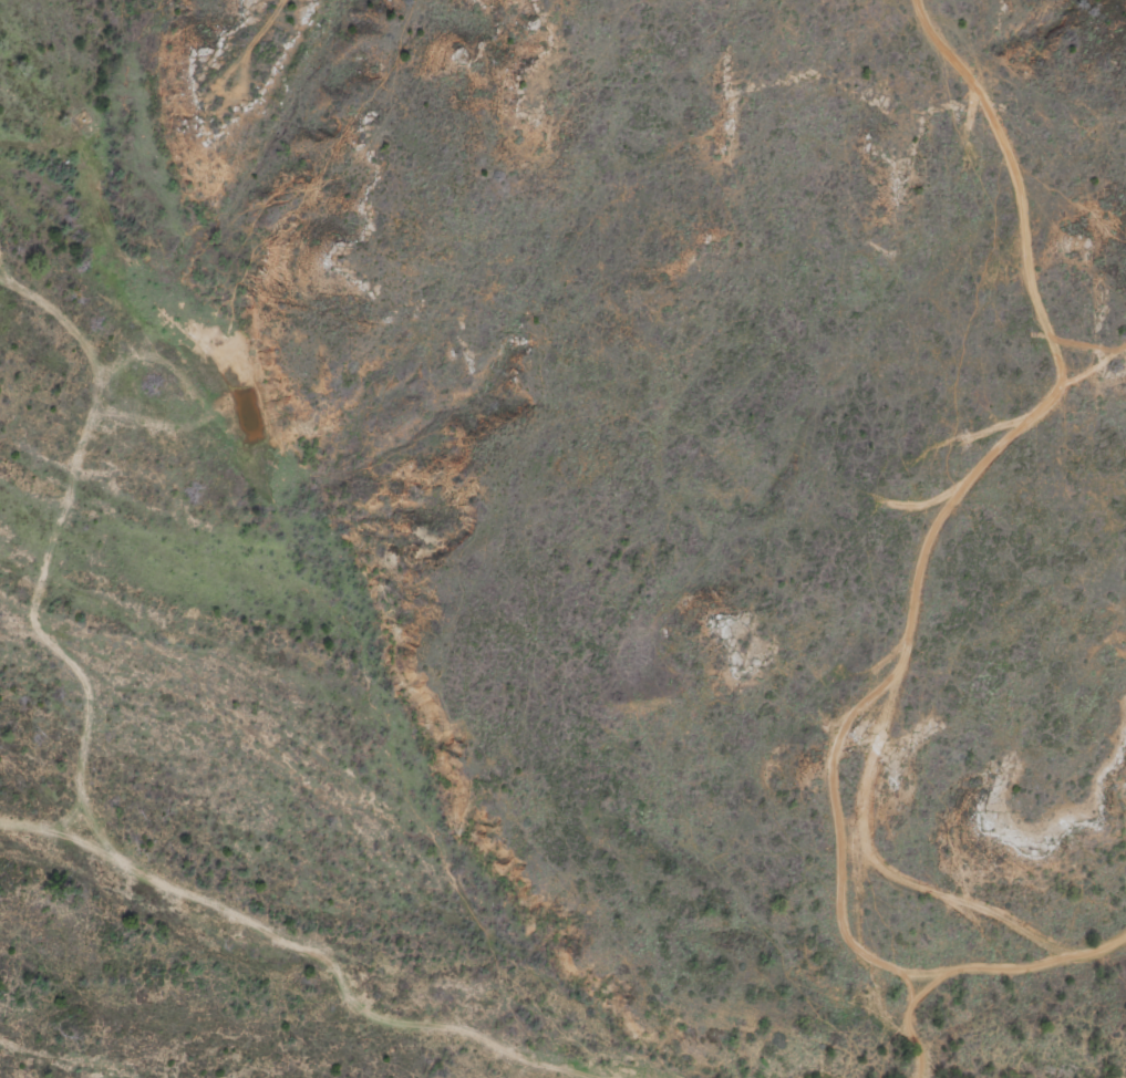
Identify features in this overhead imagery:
road: (931, 531)

